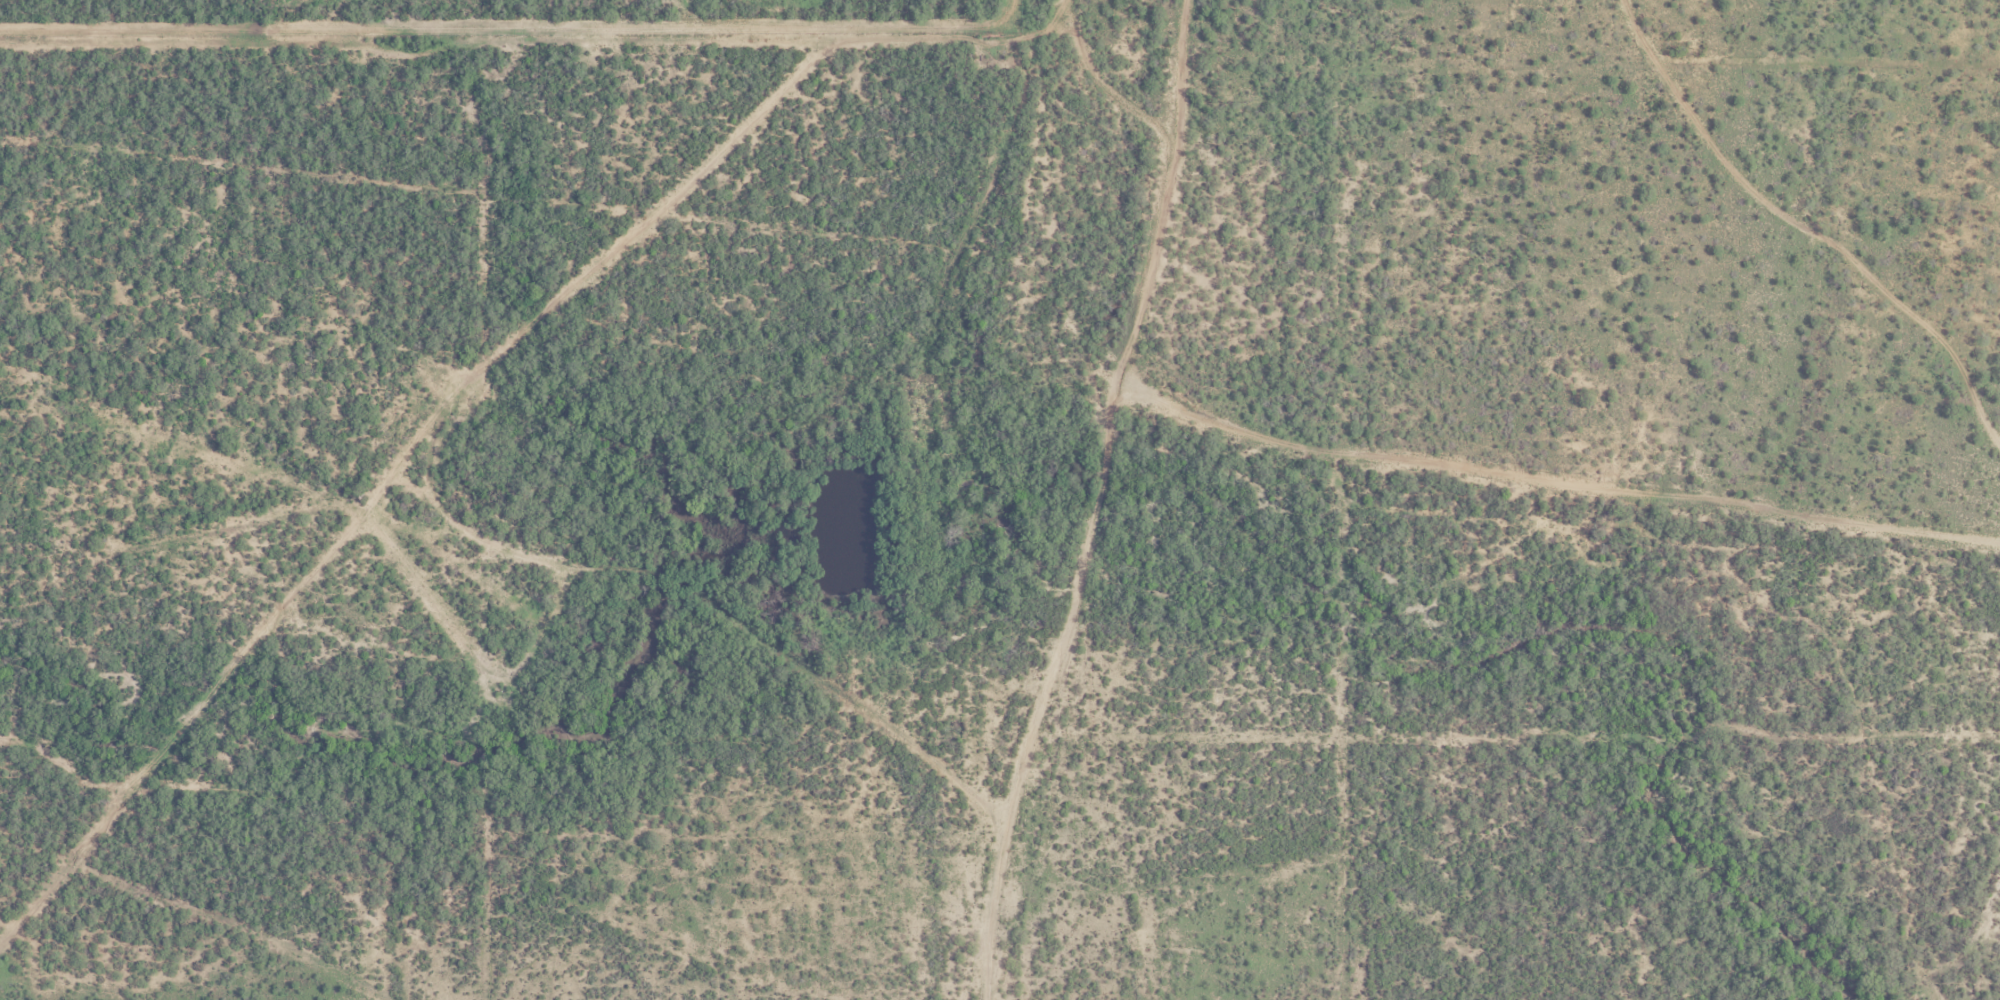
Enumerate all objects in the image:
road: (1081, 572)

